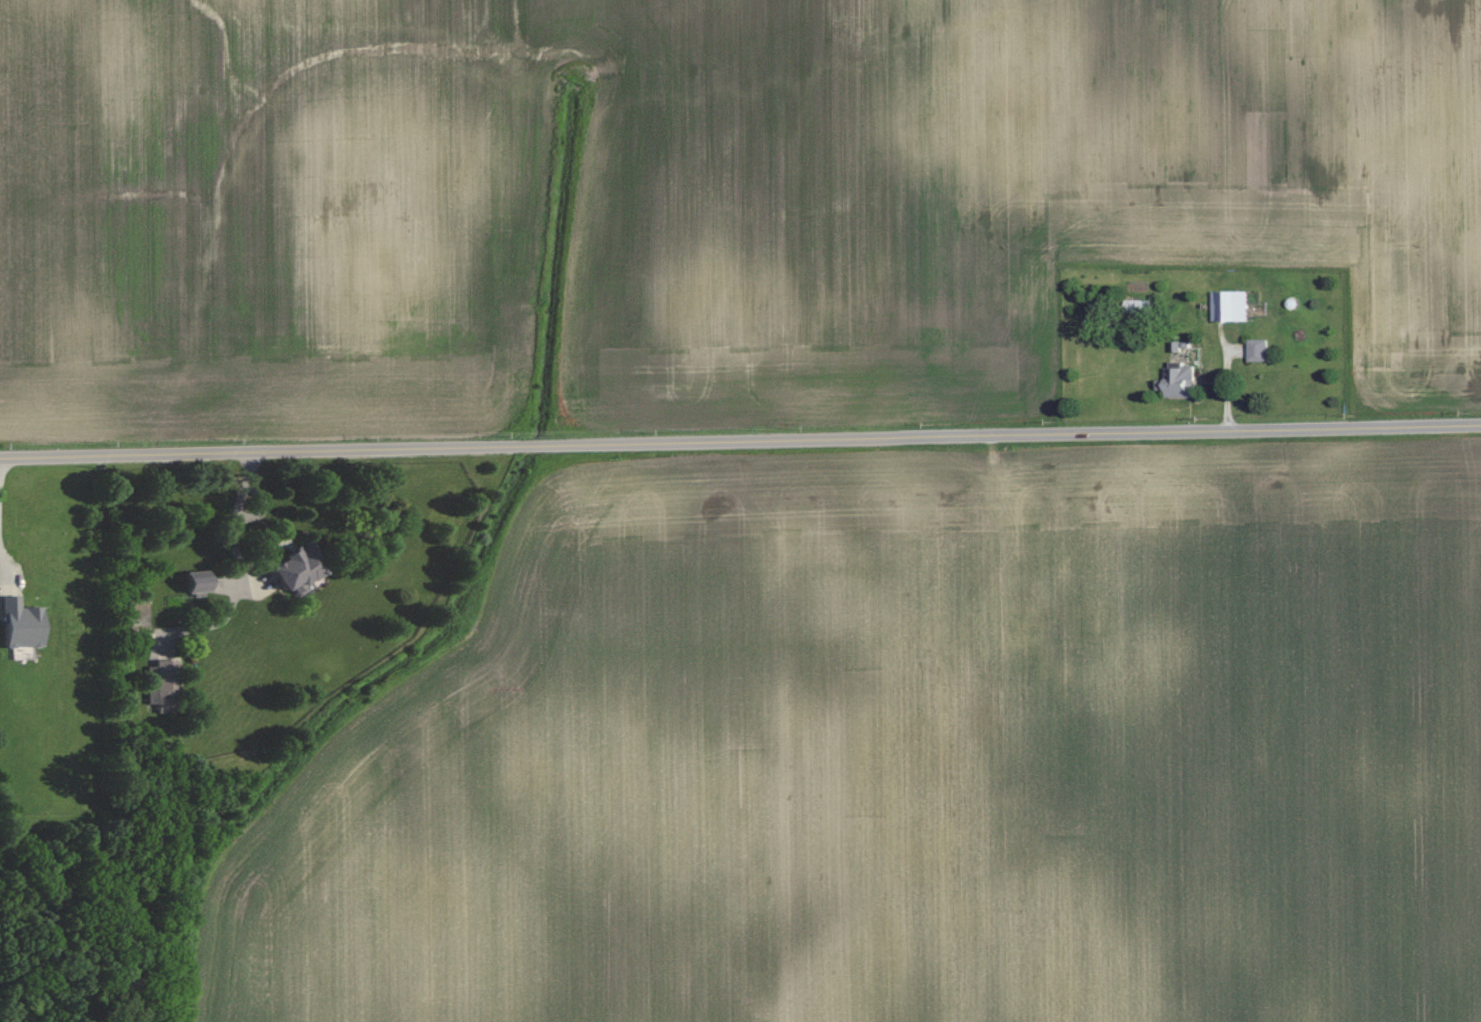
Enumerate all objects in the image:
building: (1230, 305)
building: (1259, 350)
road: (740, 439)
road: (263, 508)
road: (236, 529)
building: (294, 566)
road: (4, 571)
building: (195, 581)
building: (20, 624)
building: (162, 681)

